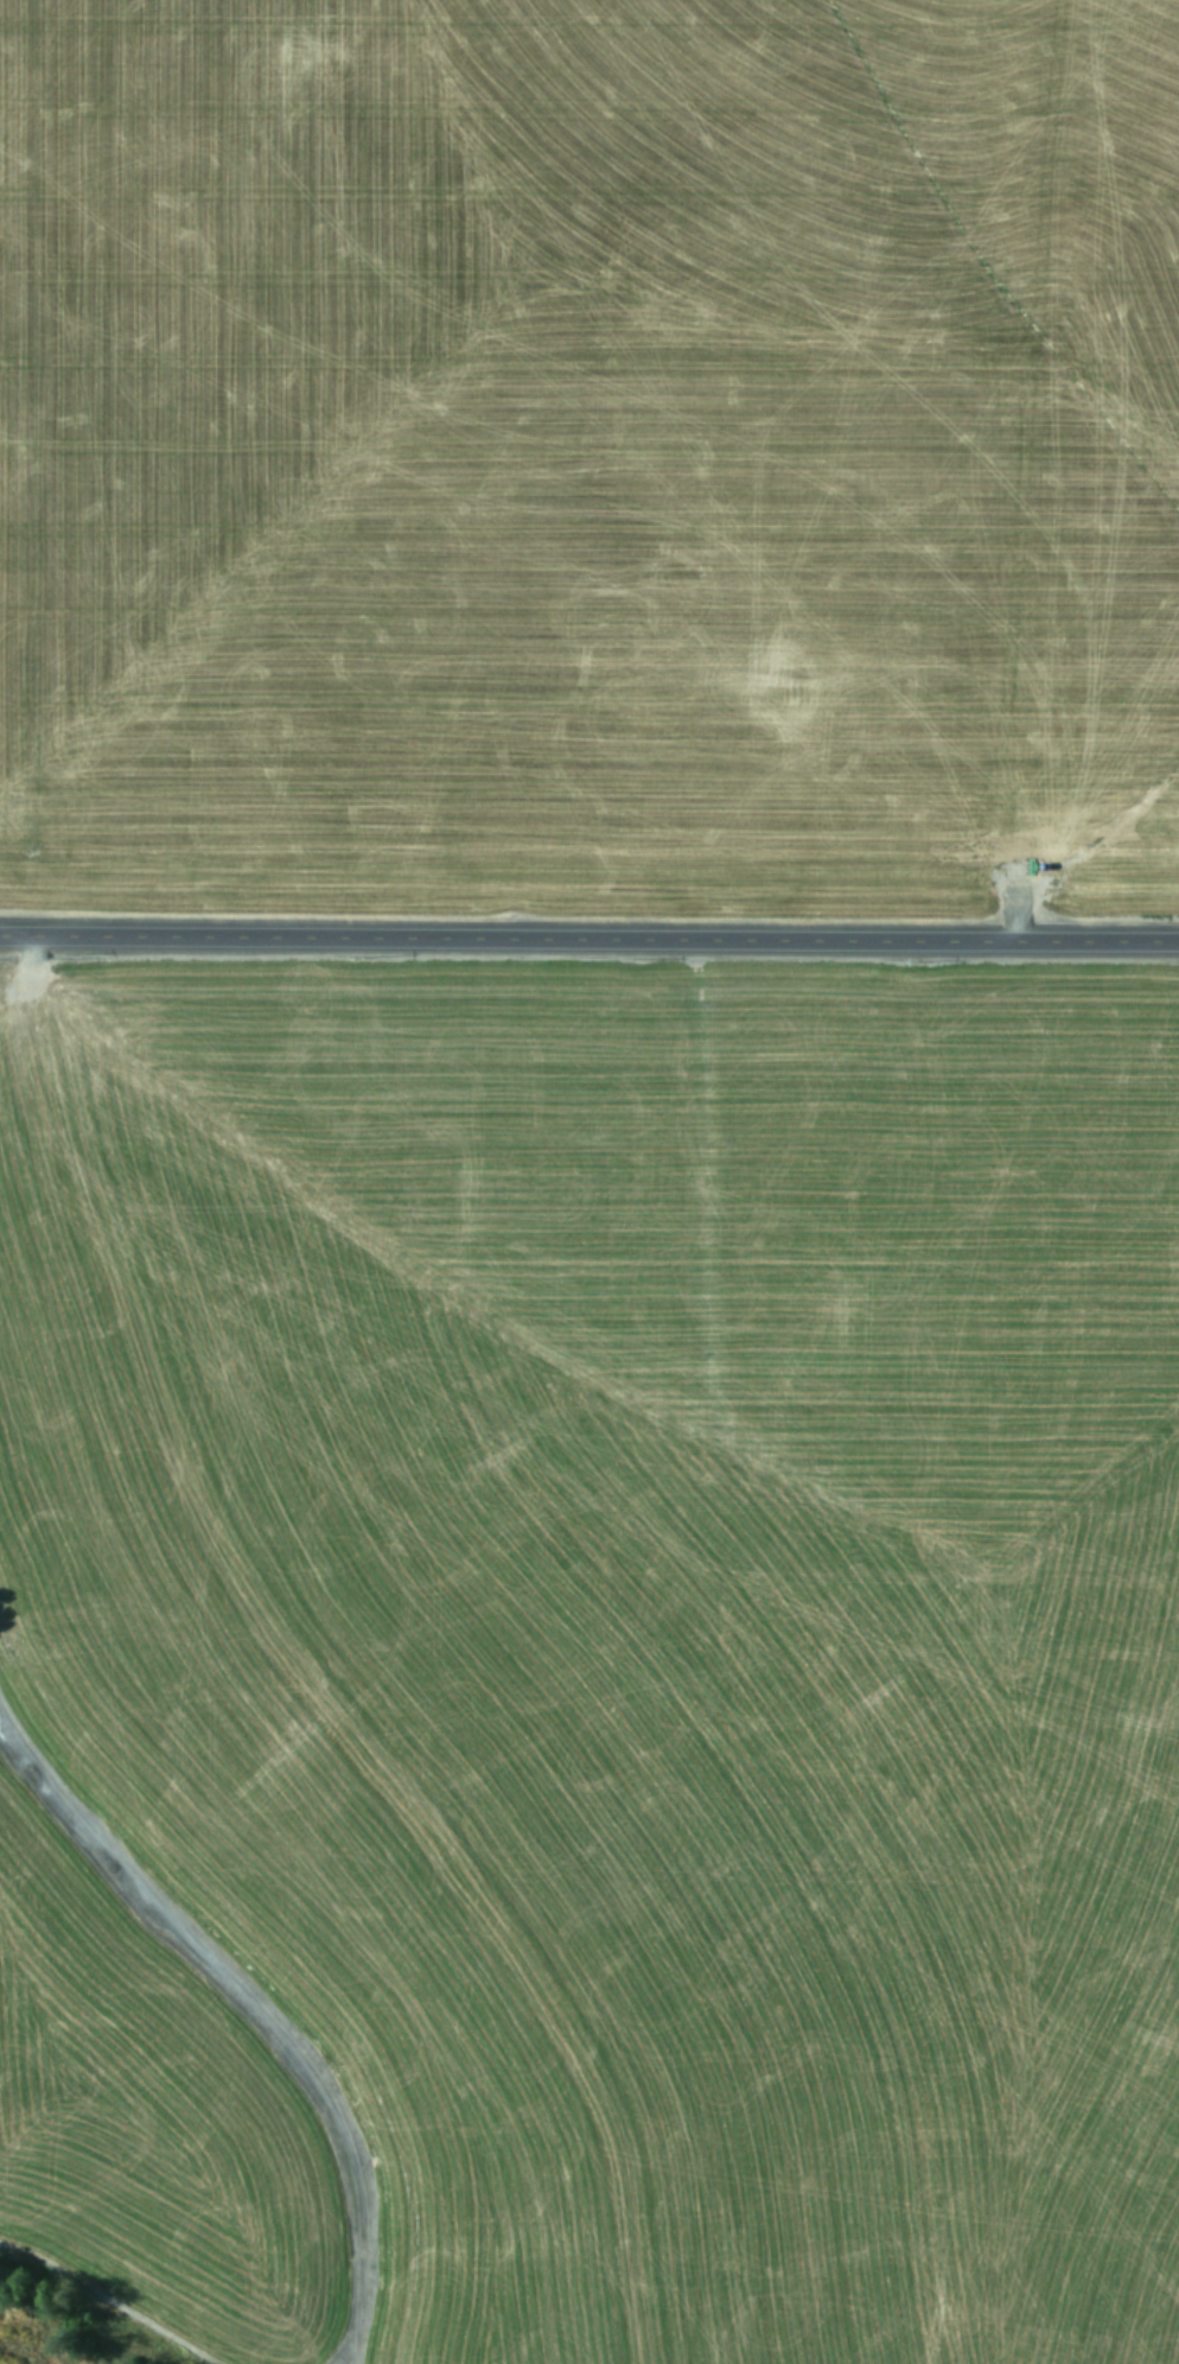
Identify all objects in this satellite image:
crop: (588, 450)
road: (589, 935)
crop: (592, 1656)

